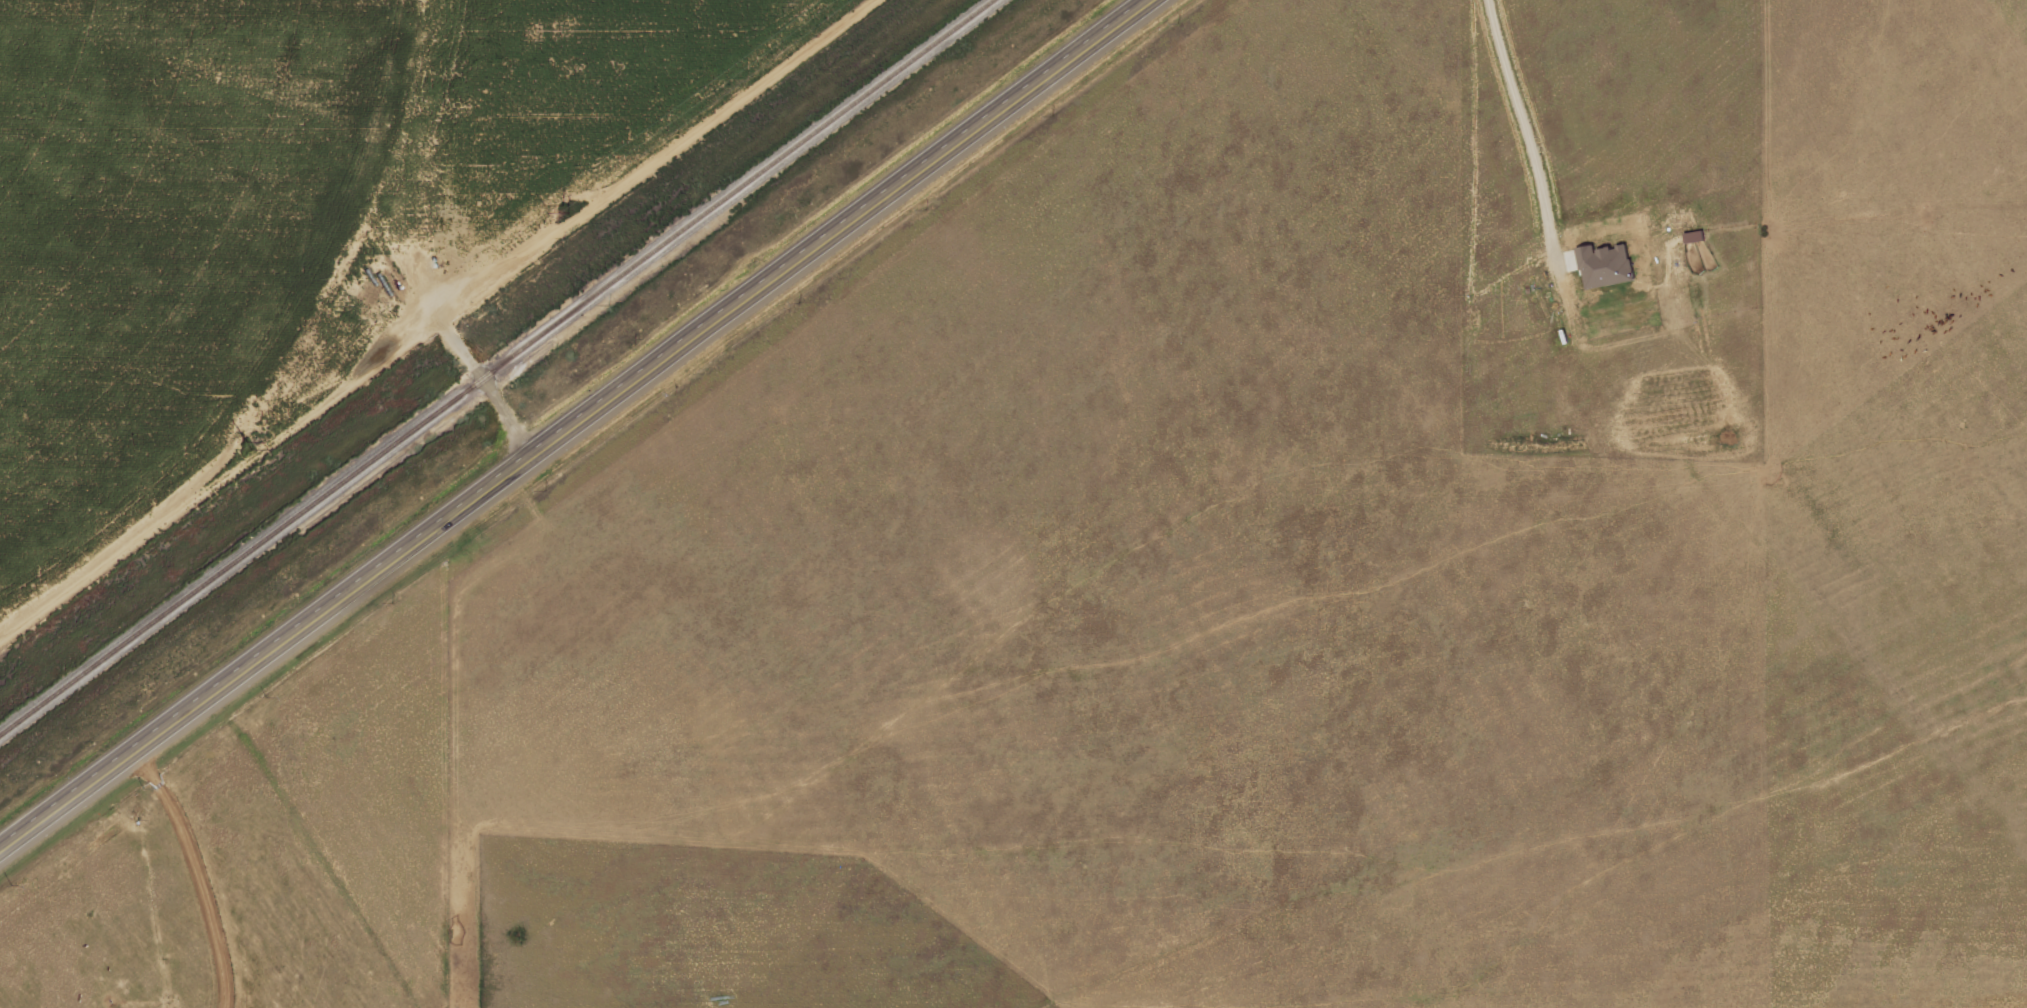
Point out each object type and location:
power tower: (565, 205)
railway: (501, 365)
road: (505, 419)
road: (575, 424)
power tower: (246, 443)

